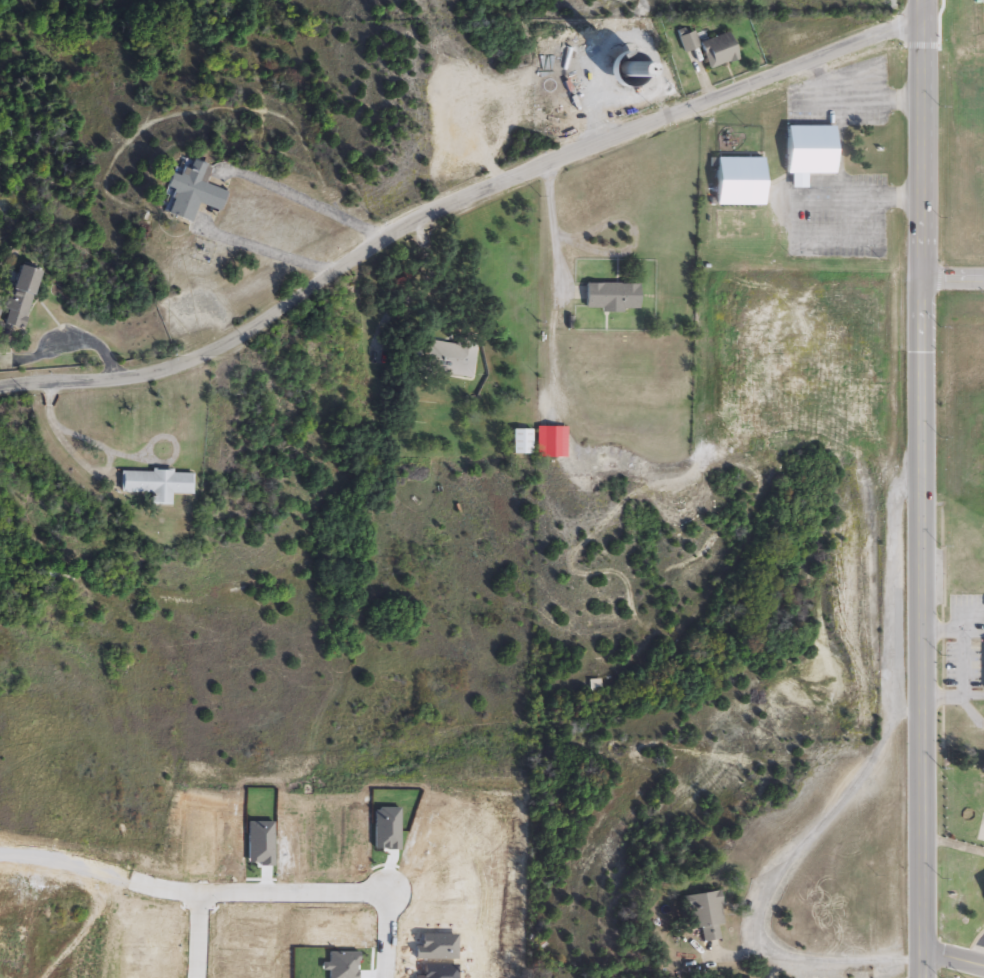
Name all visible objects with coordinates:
building: (711, 49)
road: (839, 105)
building: (808, 154)
building: (737, 183)
building: (193, 194)
road: (302, 195)
road: (214, 199)
road: (455, 204)
road: (791, 217)
road: (265, 248)
road: (549, 271)
road: (953, 278)
road: (411, 289)
building: (19, 297)
building: (612, 298)
road: (75, 336)
building: (451, 357)
building: (522, 443)
building: (553, 443)
road: (87, 465)
building: (155, 485)
road: (923, 488)
road: (826, 815)
road: (139, 880)
road: (331, 893)
building: (705, 919)
road: (976, 947)
road: (953, 956)
road: (819, 960)

